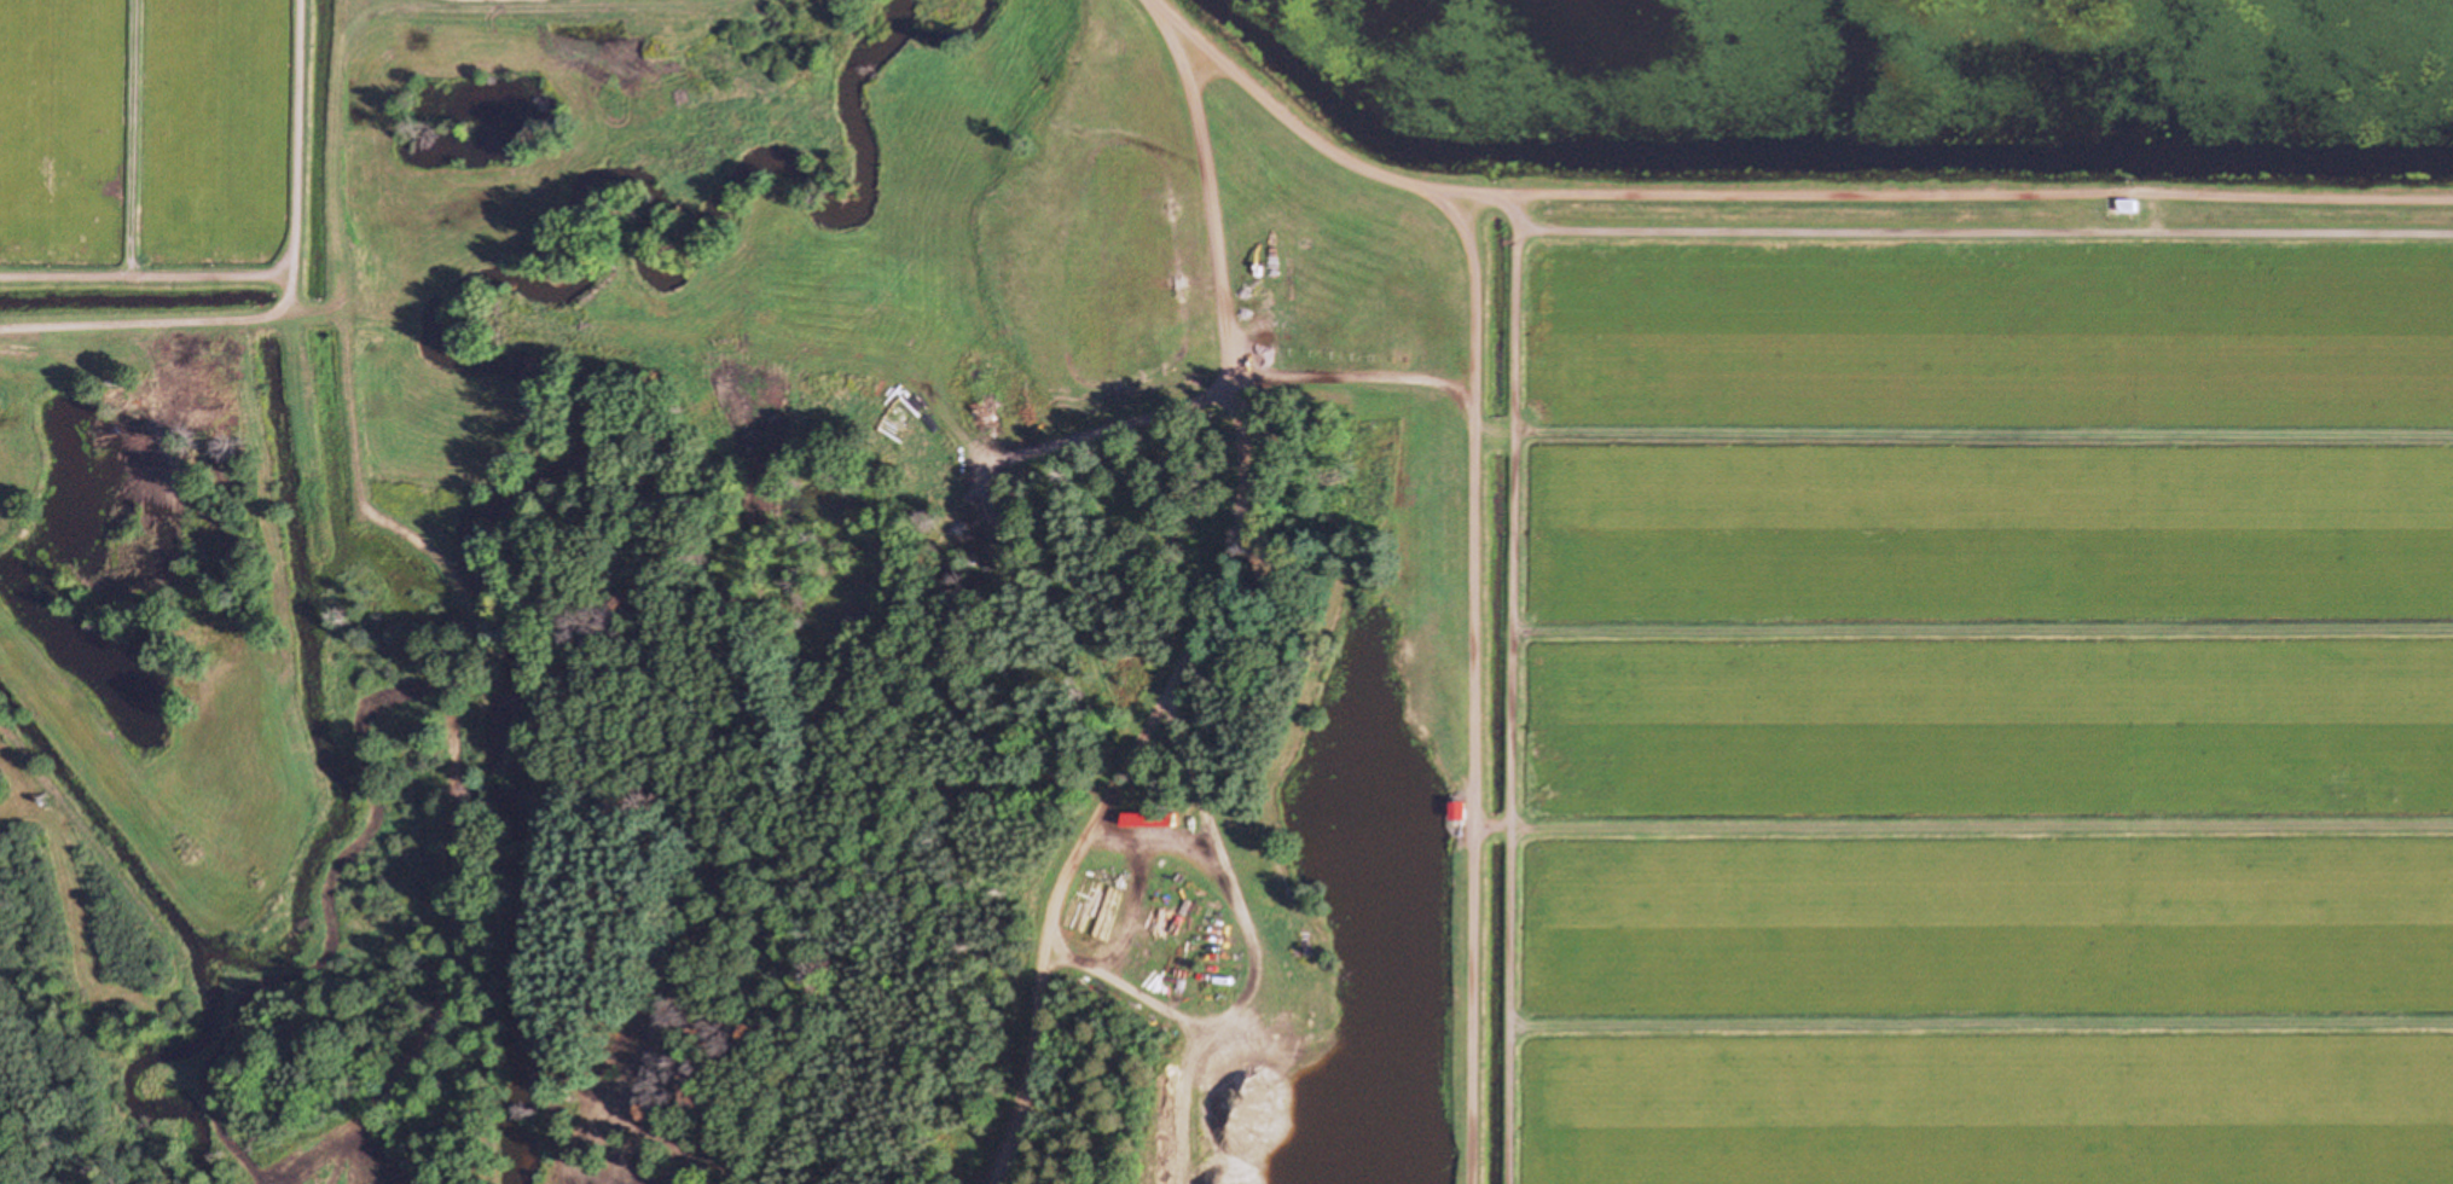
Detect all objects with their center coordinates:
crop: (153, 137)
building: (2128, 205)
crop: (1971, 681)

